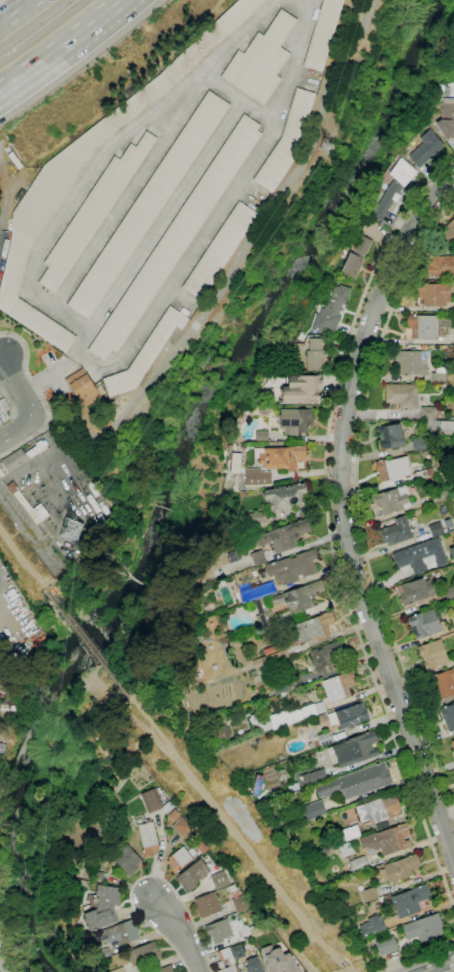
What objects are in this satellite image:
road: (16, 12)
building: (322, 34)
road: (61, 46)
building: (261, 60)
parking lot: (308, 80)
building: (440, 88)
road: (239, 98)
building: (446, 118)
building: (286, 141)
building: (425, 148)
power tower: (324, 150)
road: (103, 154)
building: (49, 189)
building: (392, 189)
road: (129, 193)
parking lot: (255, 196)
building: (148, 205)
road: (222, 209)
building: (93, 213)
road: (0, 219)
road: (157, 230)
road: (0, 232)
building: (447, 233)
building: (177, 238)
building: (220, 250)
building: (355, 258)
building: (440, 267)
road: (229, 278)
building: (434, 294)
parking lot: (185, 302)
building: (331, 310)
building: (427, 326)
road: (2, 352)
building: (145, 354)
building: (315, 355)
parking lot: (49, 358)
building: (410, 363)
road: (47, 377)
building: (438, 378)
road: (16, 386)
building: (83, 388)
building: (301, 390)
building: (402, 396)
road: (41, 397)
road: (13, 409)
building: (264, 409)
building: (427, 414)
building: (440, 414)
building: (450, 419)
building: (295, 420)
building: (439, 427)
building: (57, 429)
road: (17, 430)
building: (261, 435)
building: (390, 436)
building: (276, 443)
building: (419, 444)
building: (282, 457)
building: (15, 460)
building: (393, 468)
building: (1, 473)
building: (425, 473)
building: (256, 478)
building: (437, 495)
building: (286, 497)
building: (391, 500)
road: (356, 501)
building: (28, 505)
road: (341, 513)
building: (257, 518)
building: (448, 523)
road: (328, 526)
building: (70, 529)
building: (436, 529)
power tower: (68, 532)
building: (397, 532)
building: (283, 536)
building: (452, 553)
building: (233, 556)
building: (420, 556)
building: (257, 558)
road: (24, 562)
building: (290, 568)
building: (414, 592)
building: (449, 592)
building: (252, 593)
building: (299, 597)
building: (264, 615)
building: (453, 618)
building: (453, 619)
building: (424, 624)
building: (311, 629)
road: (88, 644)
building: (274, 649)
building: (432, 654)
building: (277, 656)
building: (327, 657)
building: (259, 662)
building: (265, 672)
building: (253, 673)
building: (443, 684)
building: (287, 686)
building: (338, 686)
building: (313, 709)
road: (128, 711)
building: (349, 716)
building: (448, 716)
building: (283, 718)
building: (322, 718)
building: (253, 719)
building: (265, 726)
building: (221, 735)
building: (324, 739)
building: (453, 742)
building: (316, 744)
building: (453, 746)
building: (356, 749)
building: (314, 777)
building: (356, 782)
building: (155, 802)
building: (313, 810)
building: (378, 810)
building: (179, 823)
road: (238, 833)
building: (348, 833)
building: (148, 838)
building: (387, 840)
building: (201, 847)
building: (345, 849)
building: (330, 851)
building: (181, 858)
building: (128, 861)
building: (358, 864)
building: (399, 869)
building: (192, 875)
building: (97, 876)
road: (146, 877)
building: (218, 879)
building: (231, 888)
building: (368, 895)
building: (409, 901)
building: (240, 903)
building: (207, 905)
building: (101, 907)
building: (372, 925)
building: (424, 928)
building: (257, 930)
building: (219, 931)
building: (120, 933)
road: (179, 933)
building: (386, 946)
building: (143, 954)
road: (412, 955)
building: (279, 958)
building: (226, 960)
building: (254, 965)
road: (438, 966)
building: (166, 969)
building: (118, 970)
road: (0, 971)

